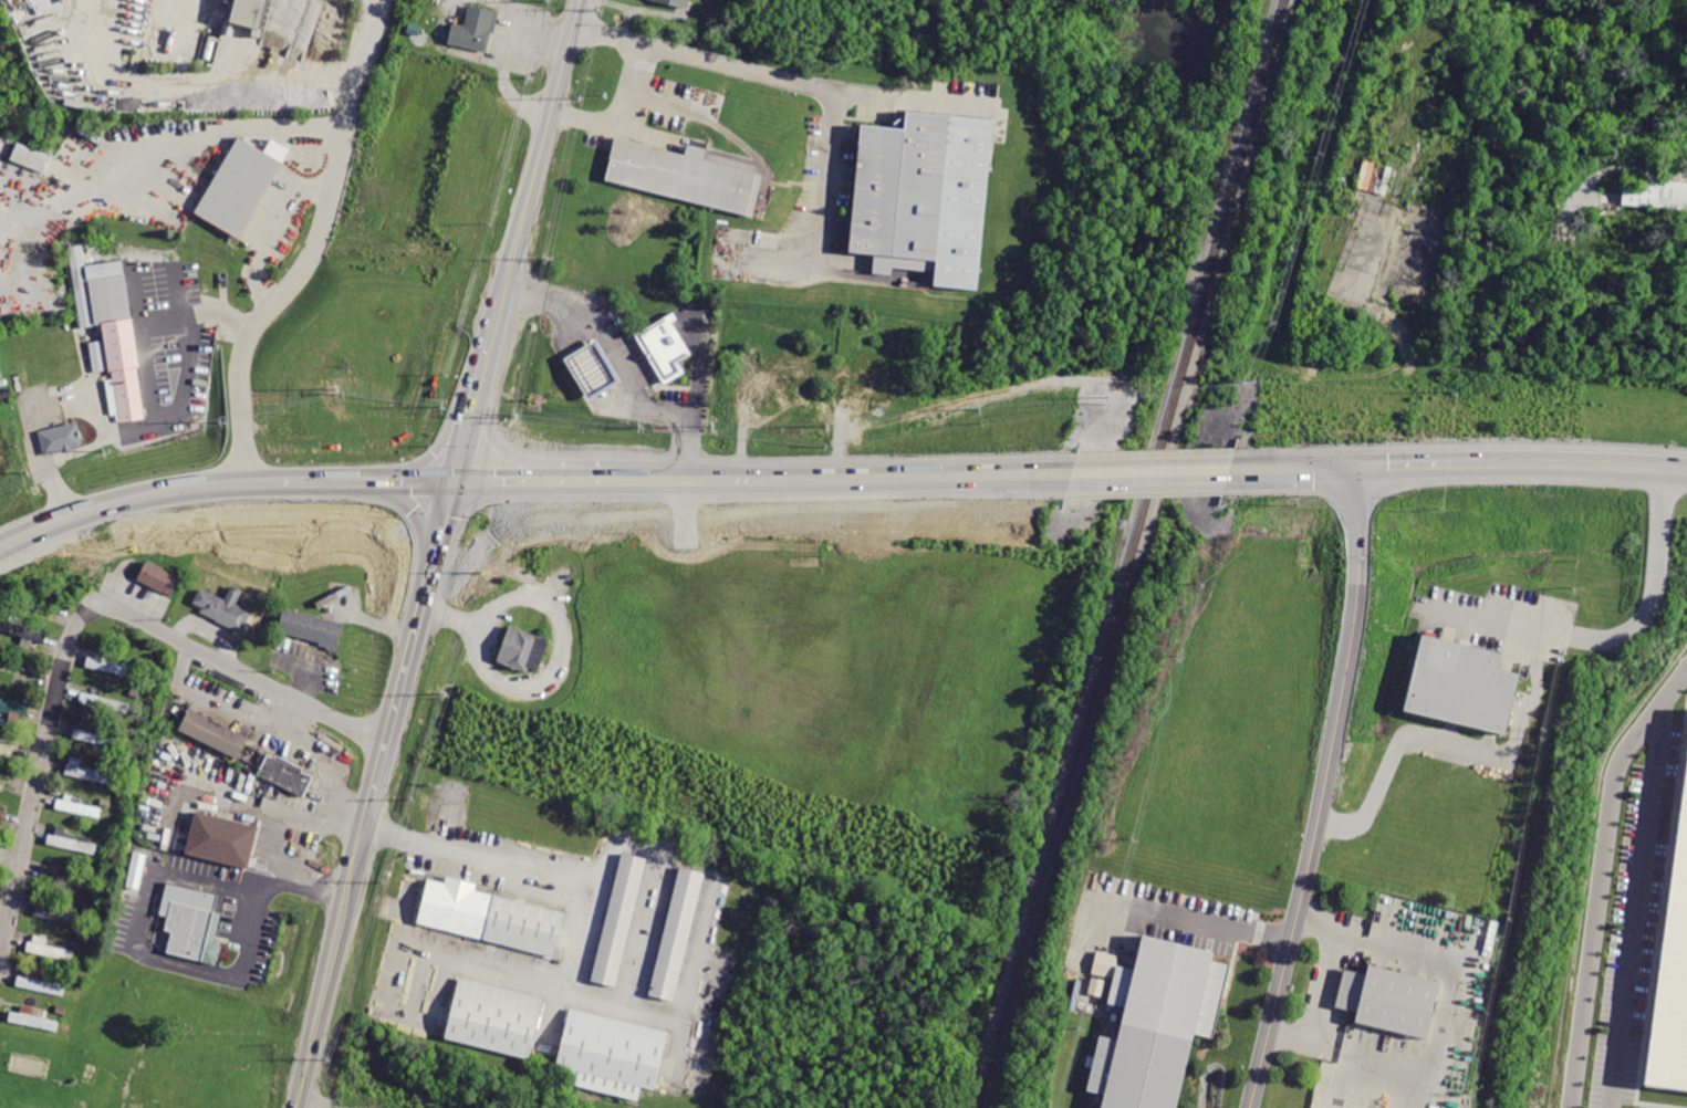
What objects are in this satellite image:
building: (336, 1)
building: (675, 2)
building: (252, 18)
building: (476, 30)
road: (826, 85)
building: (127, 103)
road: (624, 112)
road: (201, 138)
building: (29, 156)
road: (537, 170)
building: (683, 177)
building: (240, 190)
building: (921, 195)
building: (1656, 195)
road: (272, 231)
road: (310, 249)
building: (76, 260)
road: (179, 293)
road: (136, 296)
road: (548, 301)
road: (196, 315)
building: (115, 339)
building: (662, 344)
building: (97, 355)
building: (590, 366)
gas station: (590, 366)
building: (0, 376)
road: (483, 377)
road: (625, 379)
road: (694, 403)
road: (67, 405)
road: (167, 416)
building: (61, 439)
road: (466, 447)
road: (508, 449)
road: (435, 450)
road: (1422, 462)
road: (1572, 462)
traffic signals: (1362, 467)
road: (1297, 468)
road: (1674, 468)
road: (1152, 472)
road: (51, 473)
road: (424, 482)
traffic signals: (457, 482)
road: (501, 482)
road: (333, 483)
road: (573, 483)
road: (836, 484)
road: (133, 500)
road: (420, 512)
road: (448, 515)
railway: (1133, 553)
building: (162, 579)
building: (225, 606)
building: (311, 628)
building: (23, 629)
road: (1622, 633)
building: (525, 651)
building: (112, 665)
road: (242, 673)
building: (1461, 684)
road: (403, 690)
building: (105, 701)
building: (13, 707)
road: (225, 709)
building: (215, 734)
building: (96, 736)
road: (1450, 740)
building: (11, 743)
road: (39, 772)
building: (88, 772)
building: (287, 773)
building: (8, 780)
road: (332, 785)
road: (1324, 790)
building: (74, 805)
building: (4, 814)
road: (277, 836)
building: (220, 838)
building: (73, 844)
road: (477, 856)
road: (10, 858)
road: (357, 867)
road: (1603, 879)
road: (1636, 907)
road: (144, 908)
road: (1166, 911)
building: (61, 916)
building: (619, 918)
building: (491, 919)
building: (191, 920)
building: (675, 939)
building: (51, 950)
road: (1436, 955)
building: (1673, 970)
building: (41, 983)
road: (1322, 986)
building: (1386, 997)
road: (323, 1005)
building: (493, 1016)
building: (35, 1022)
building: (1155, 1027)
road: (1311, 1046)
building: (608, 1057)
road: (1362, 1060)
road: (1415, 1091)
road: (317, 1104)

